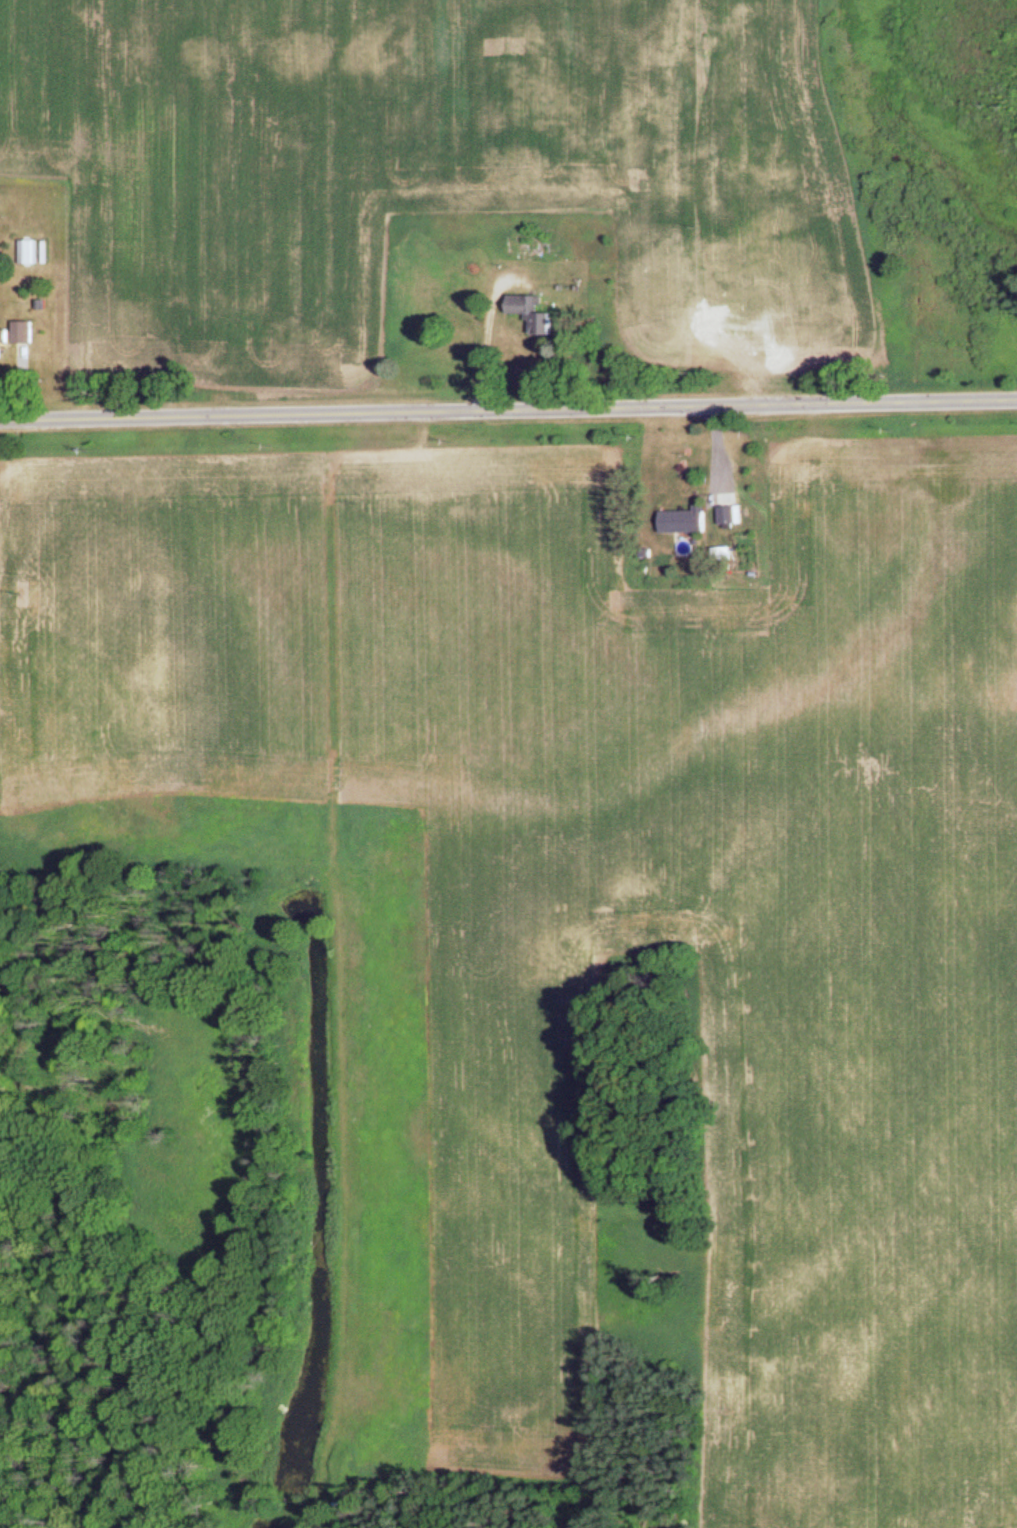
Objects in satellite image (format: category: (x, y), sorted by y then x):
building: (537, 316)
building: (27, 336)
building: (4, 346)
road: (508, 411)
building: (732, 517)
building: (686, 523)
crop: (858, 1187)

